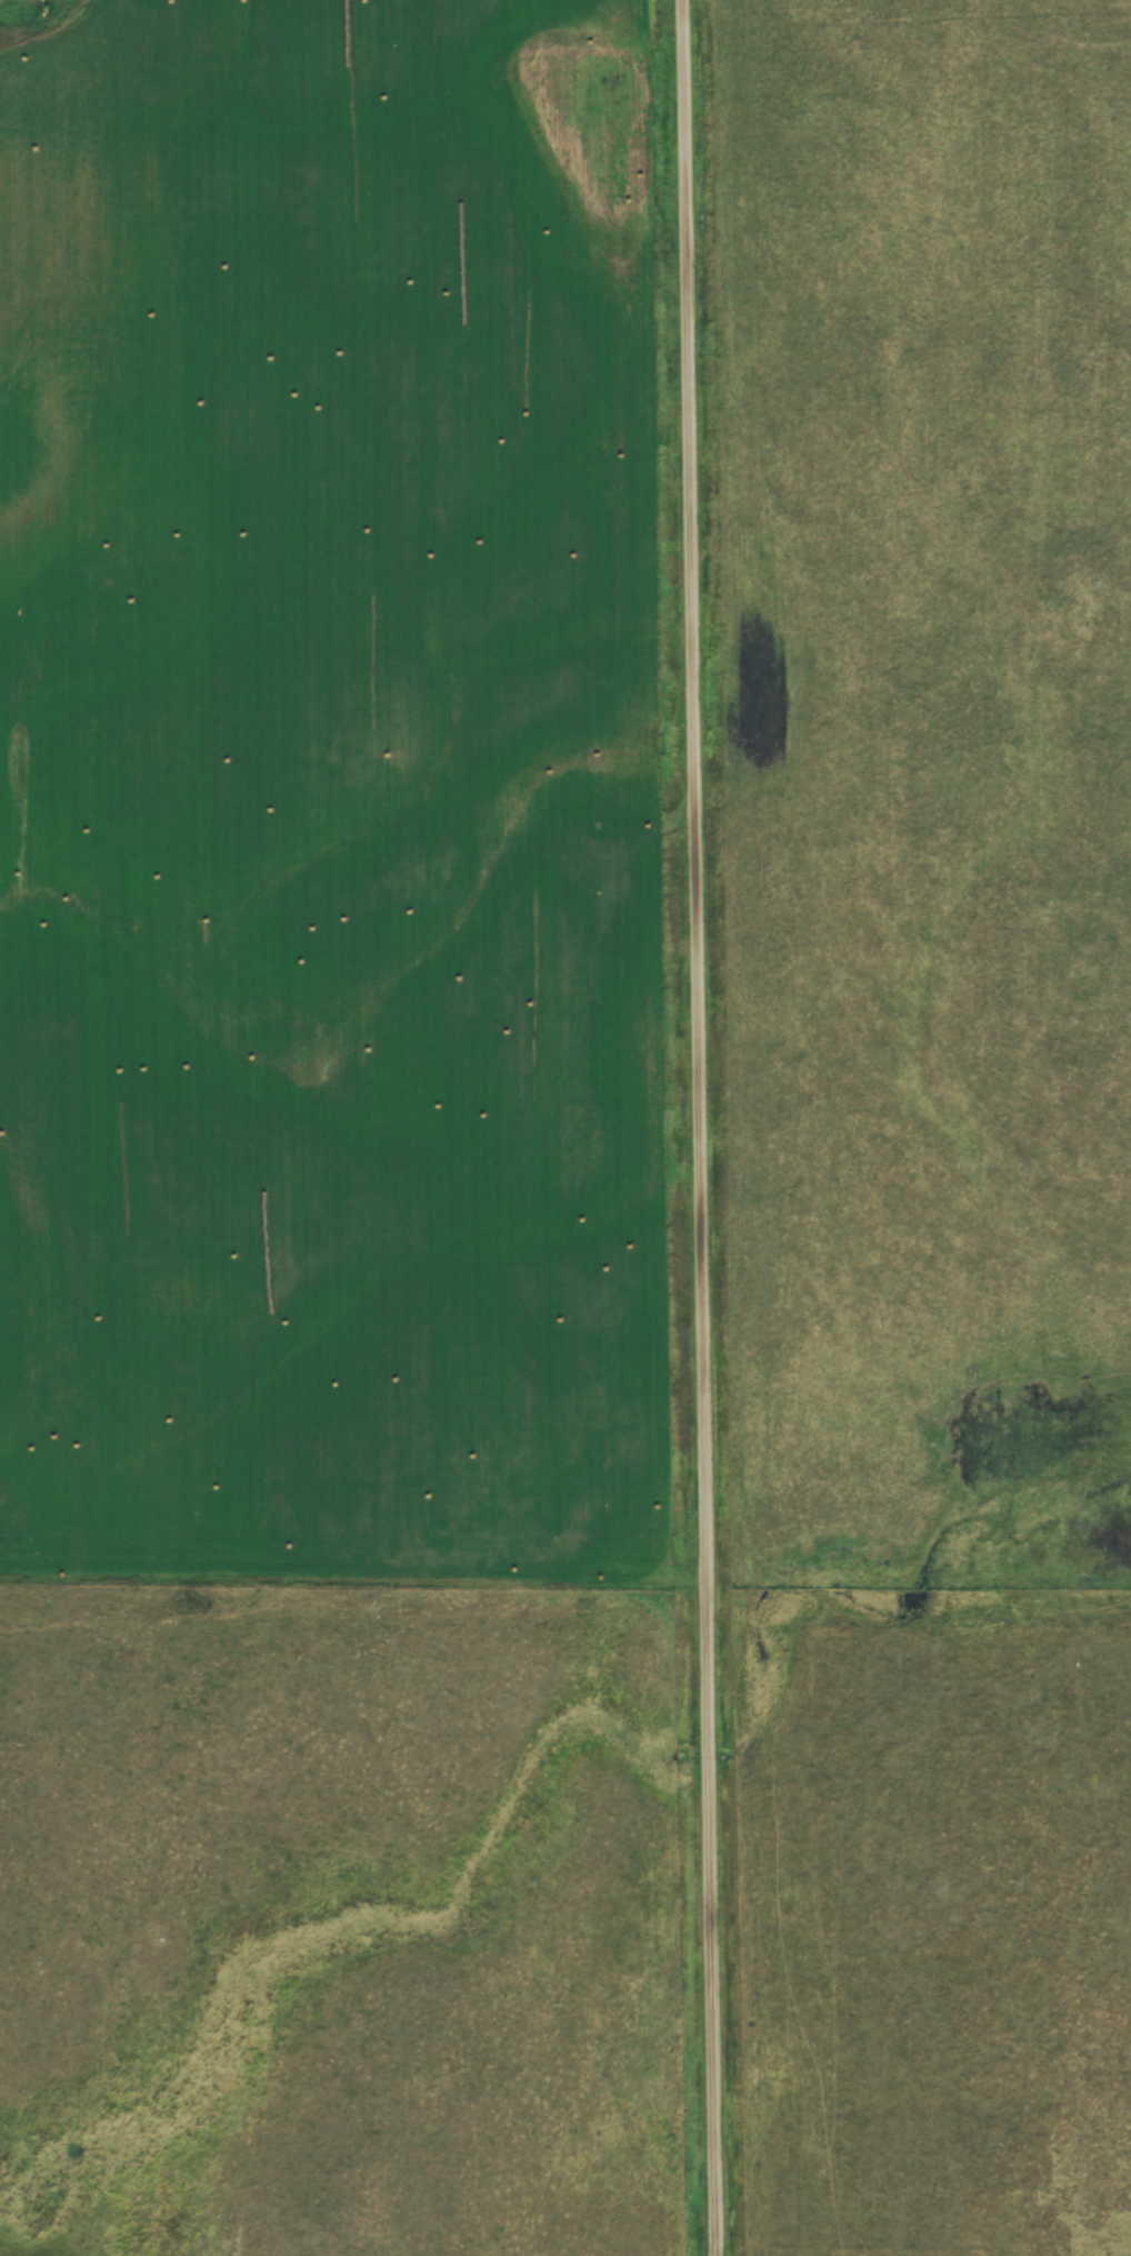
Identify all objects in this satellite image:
road: (701, 1127)

